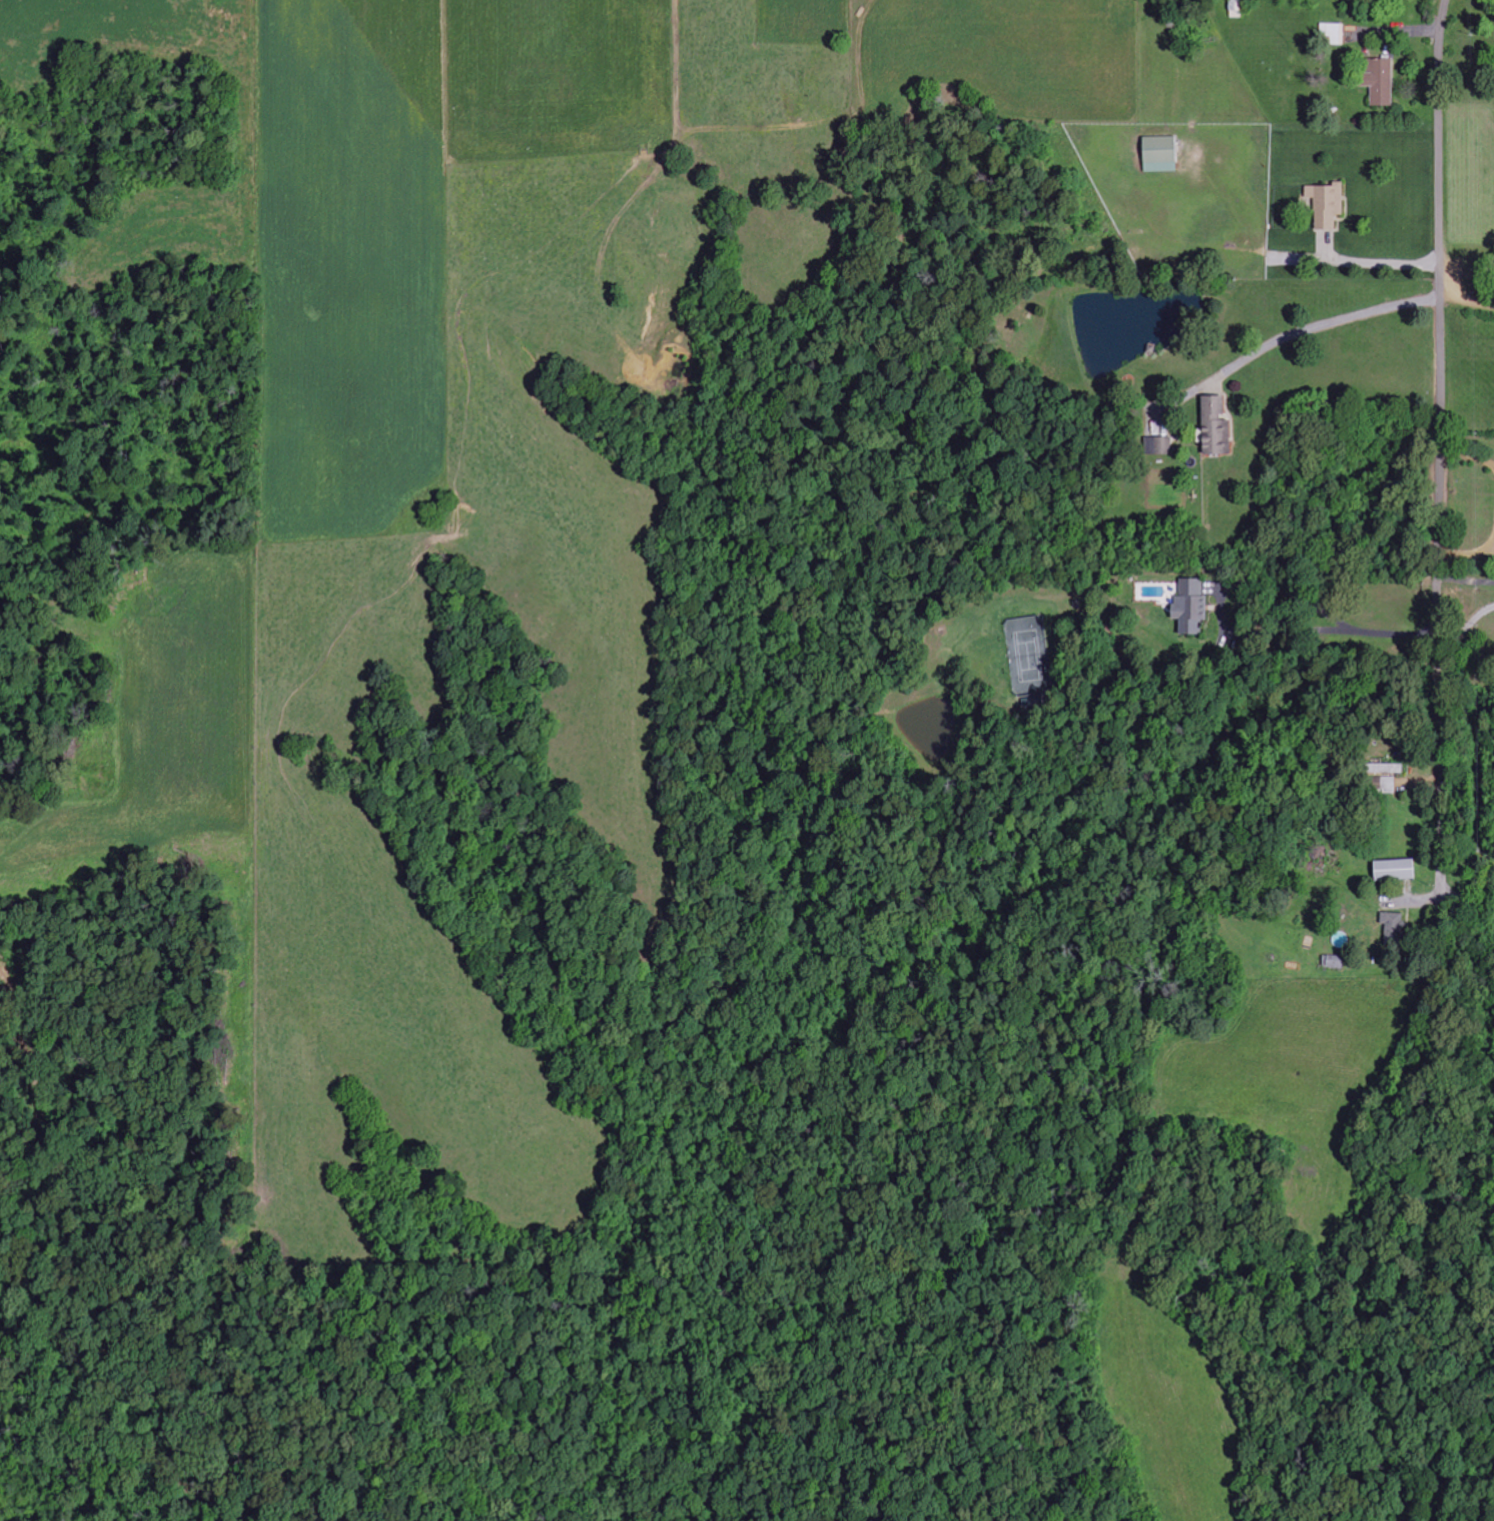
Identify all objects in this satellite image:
building: (1236, 9)
building: (1331, 35)
building: (1382, 83)
building: (1161, 155)
building: (1328, 205)
road: (1441, 402)
building: (1217, 428)
building: (1157, 447)
building: (1193, 610)
building: (1386, 769)
building: (1388, 786)
building: (1397, 870)
building: (1393, 928)
building: (1334, 962)

